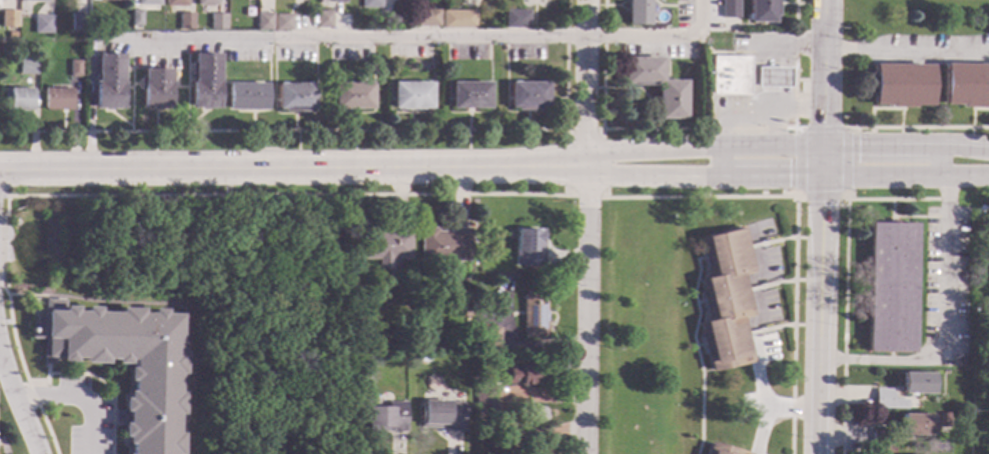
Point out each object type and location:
building: (113, 0)
building: (34, 1)
building: (338, 1)
building: (148, 2)
building: (175, 3)
building: (206, 3)
building: (371, 4)
building: (728, 9)
building: (762, 11)
building: (637, 12)
building: (9, 18)
building: (136, 18)
building: (425, 18)
building: (458, 19)
building: (323, 20)
building: (517, 20)
building: (185, 21)
building: (217, 22)
building: (263, 22)
building: (81, 23)
building: (282, 23)
building: (43, 26)
building: (12, 36)
building: (91, 36)
road: (348, 36)
road: (906, 51)
road: (727, 53)
building: (28, 66)
road: (168, 68)
building: (76, 69)
road: (769, 69)
building: (726, 76)
building: (767, 78)
building: (204, 81)
building: (108, 82)
road: (220, 82)
road: (130, 83)
road: (186, 83)
building: (901, 85)
building: (966, 86)
road: (825, 87)
building: (155, 89)
road: (268, 89)
building: (247, 96)
building: (352, 96)
building: (411, 96)
building: (469, 96)
building: (527, 96)
building: (295, 98)
building: (59, 99)
building: (17, 100)
building: (669, 100)
road: (506, 109)
road: (754, 109)
road: (352, 112)
road: (411, 112)
road: (295, 113)
road: (468, 113)
road: (118, 117)
road: (195, 118)
road: (352, 119)
road: (468, 119)
road: (154, 120)
road: (411, 120)
road: (251, 121)
road: (526, 121)
road: (294, 122)
road: (917, 127)
road: (696, 128)
road: (346, 130)
road: (786, 146)
road: (269, 149)
road: (939, 159)
road: (717, 162)
road: (293, 167)
road: (704, 175)
road: (906, 175)
building: (227, 190)
building: (763, 192)
road: (150, 195)
road: (3, 196)
road: (568, 196)
road: (795, 199)
road: (892, 211)
road: (919, 216)
road: (586, 227)
road: (795, 231)
building: (987, 241)
building: (445, 245)
building: (386, 247)
building: (974, 247)
building: (528, 248)
road: (845, 277)
building: (890, 287)
building: (726, 300)
road: (699, 302)
road: (168, 303)
building: (467, 311)
road: (821, 314)
building: (533, 315)
road: (5, 321)
road: (945, 325)
road: (751, 336)
building: (487, 339)
road: (699, 345)
road: (696, 352)
building: (418, 356)
road: (1, 359)
building: (957, 360)
building: (124, 363)
building: (367, 366)
building: (528, 375)
road: (97, 379)
building: (916, 382)
building: (482, 395)
road: (81, 397)
building: (888, 399)
road: (18, 402)
road: (792, 408)
building: (485, 413)
building: (442, 415)
building: (387, 417)
building: (944, 419)
building: (916, 423)
building: (881, 441)
building: (721, 450)

